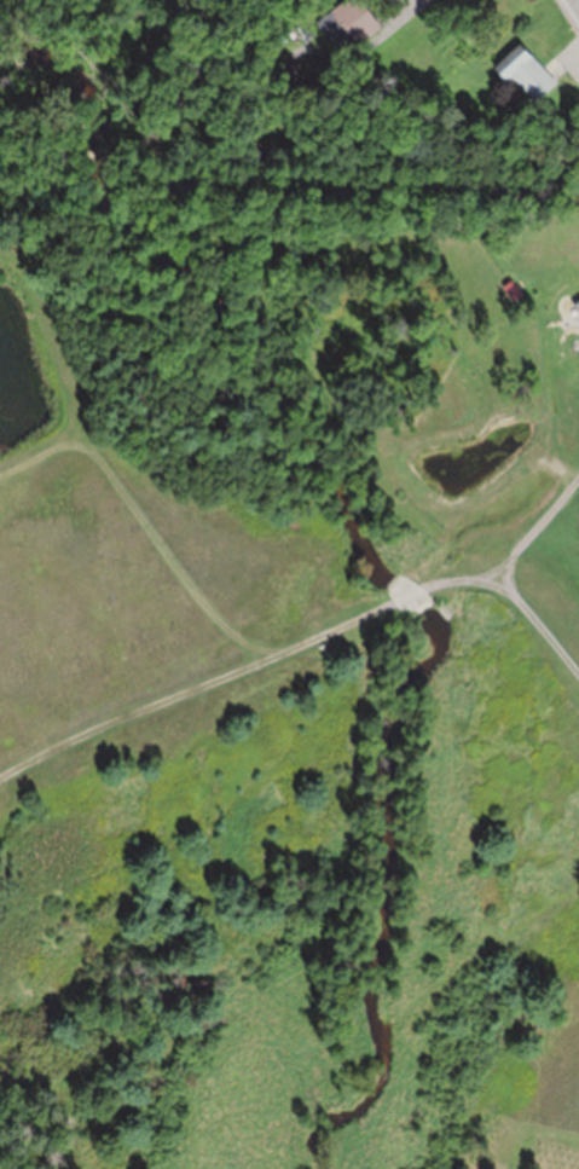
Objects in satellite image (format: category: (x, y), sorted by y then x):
building: (347, 23)
building: (526, 70)
building: (532, 256)
building: (578, 280)
building: (574, 306)

